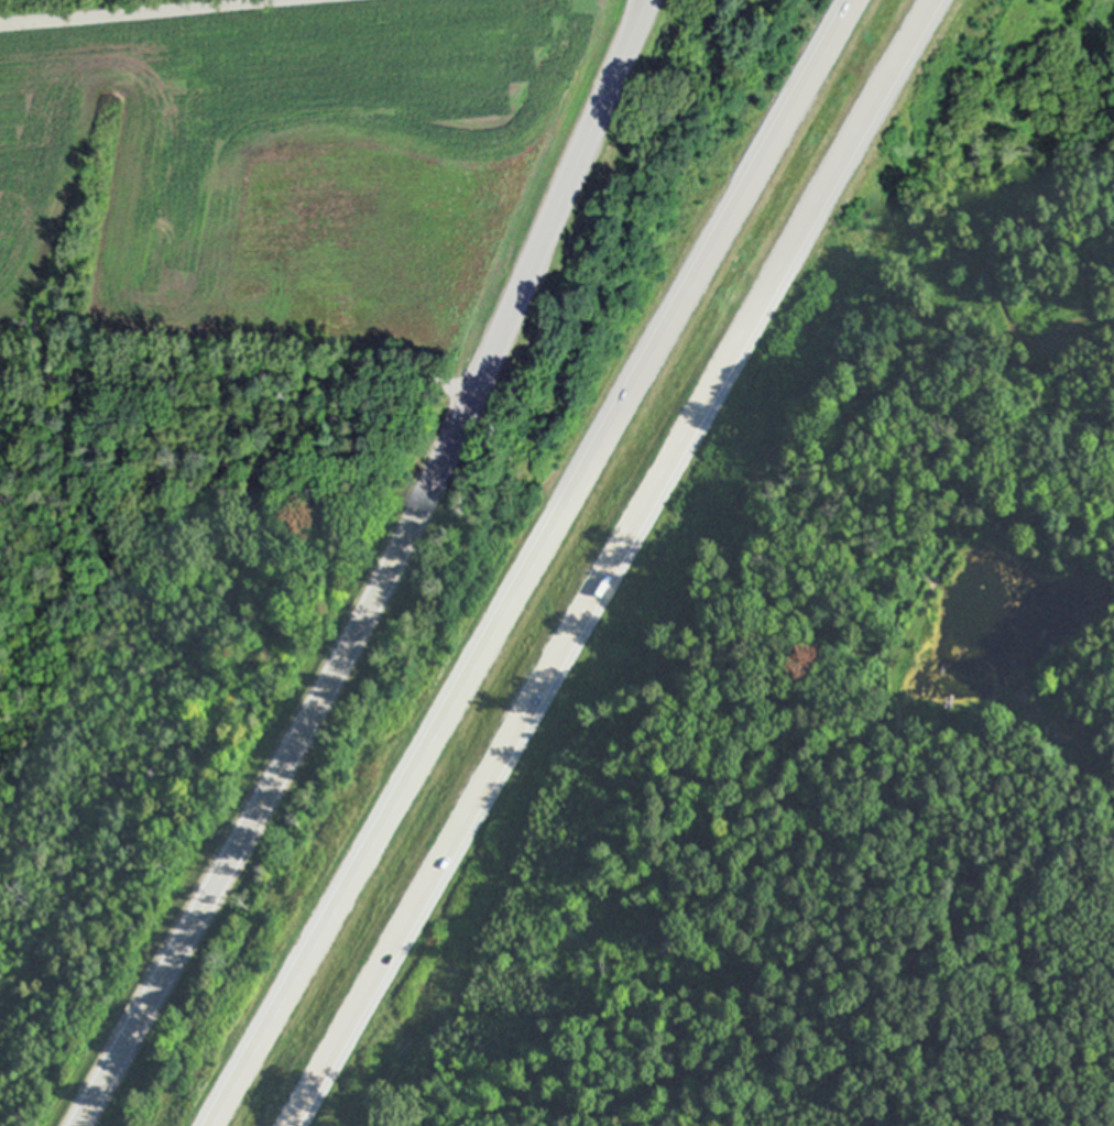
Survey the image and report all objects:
road: (144, 12)
road: (533, 561)
road: (613, 561)
road: (391, 576)

